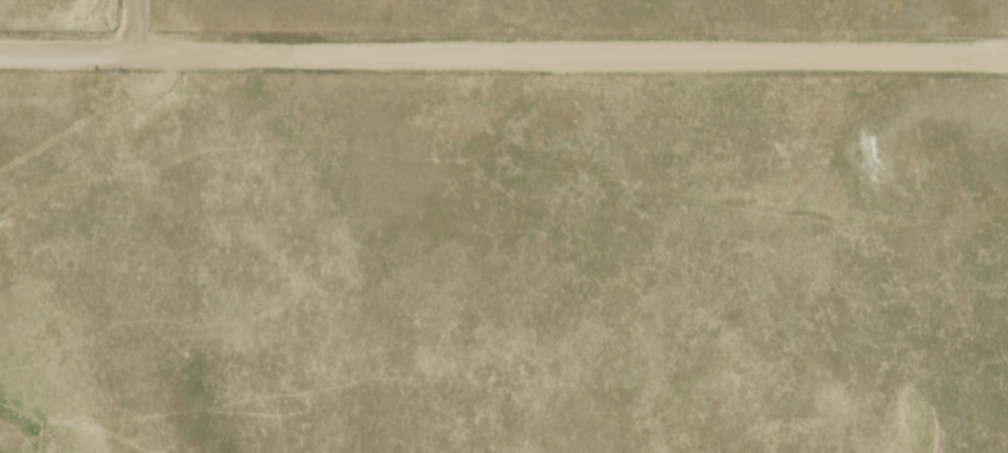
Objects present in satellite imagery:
road: (504, 54)

